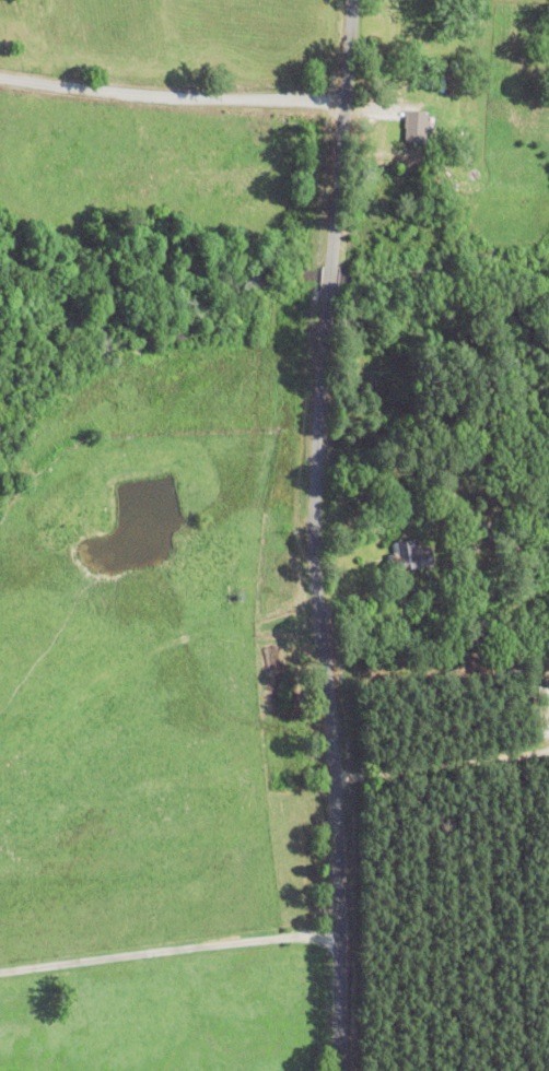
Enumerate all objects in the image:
road: (172, 93)
building: (417, 126)
road: (317, 534)
building: (410, 554)

